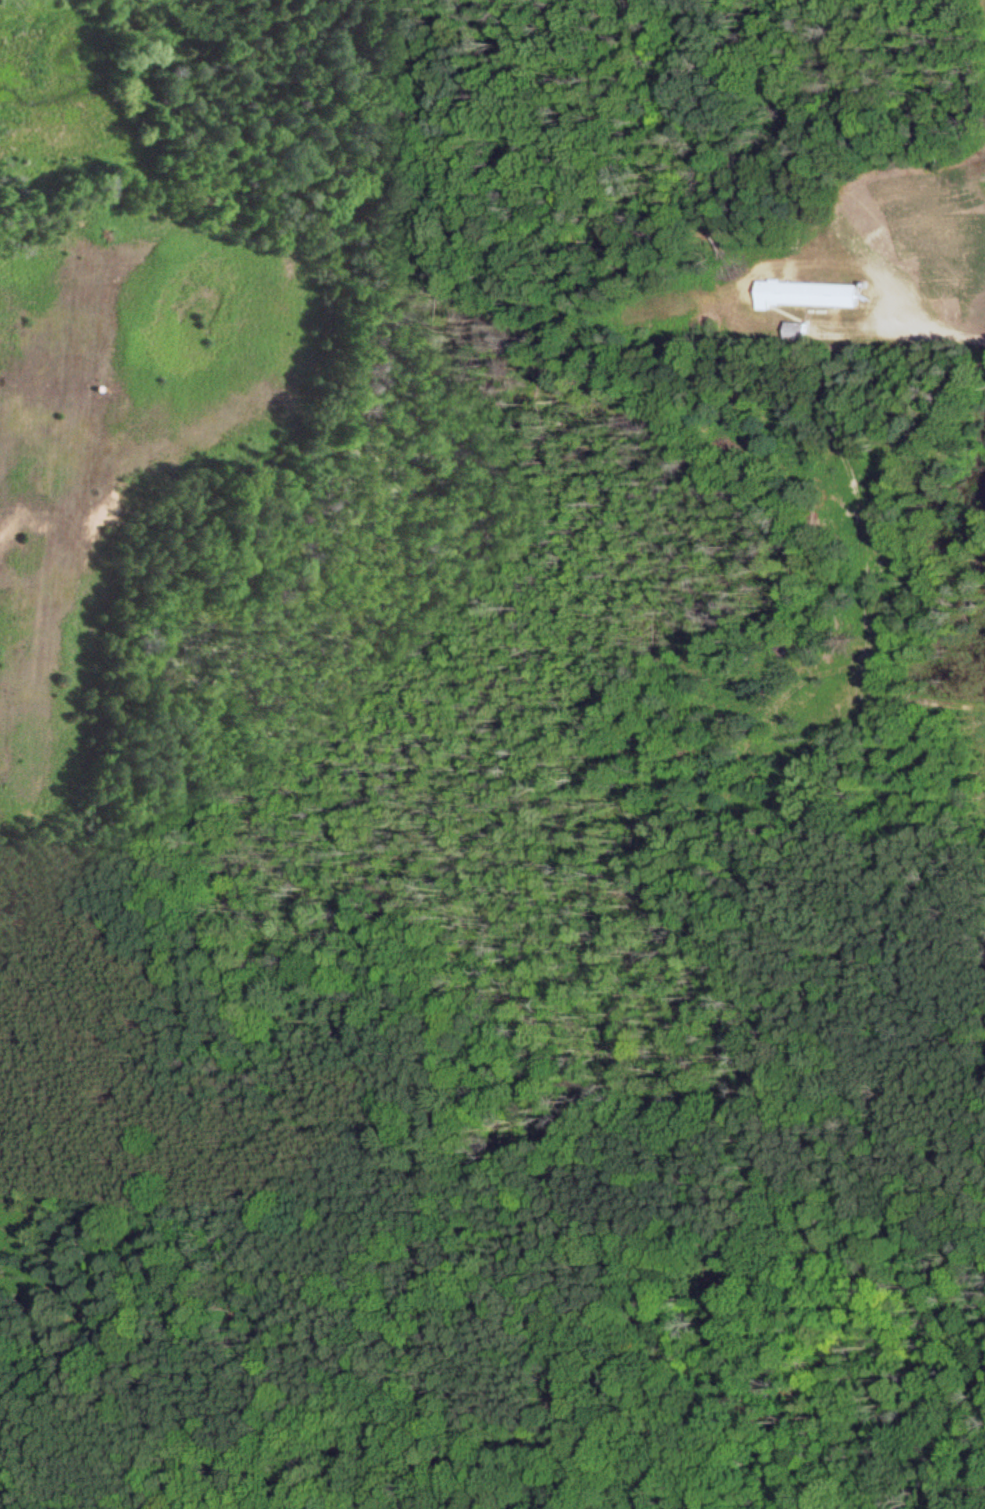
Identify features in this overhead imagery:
building: (811, 298)
building: (800, 334)

